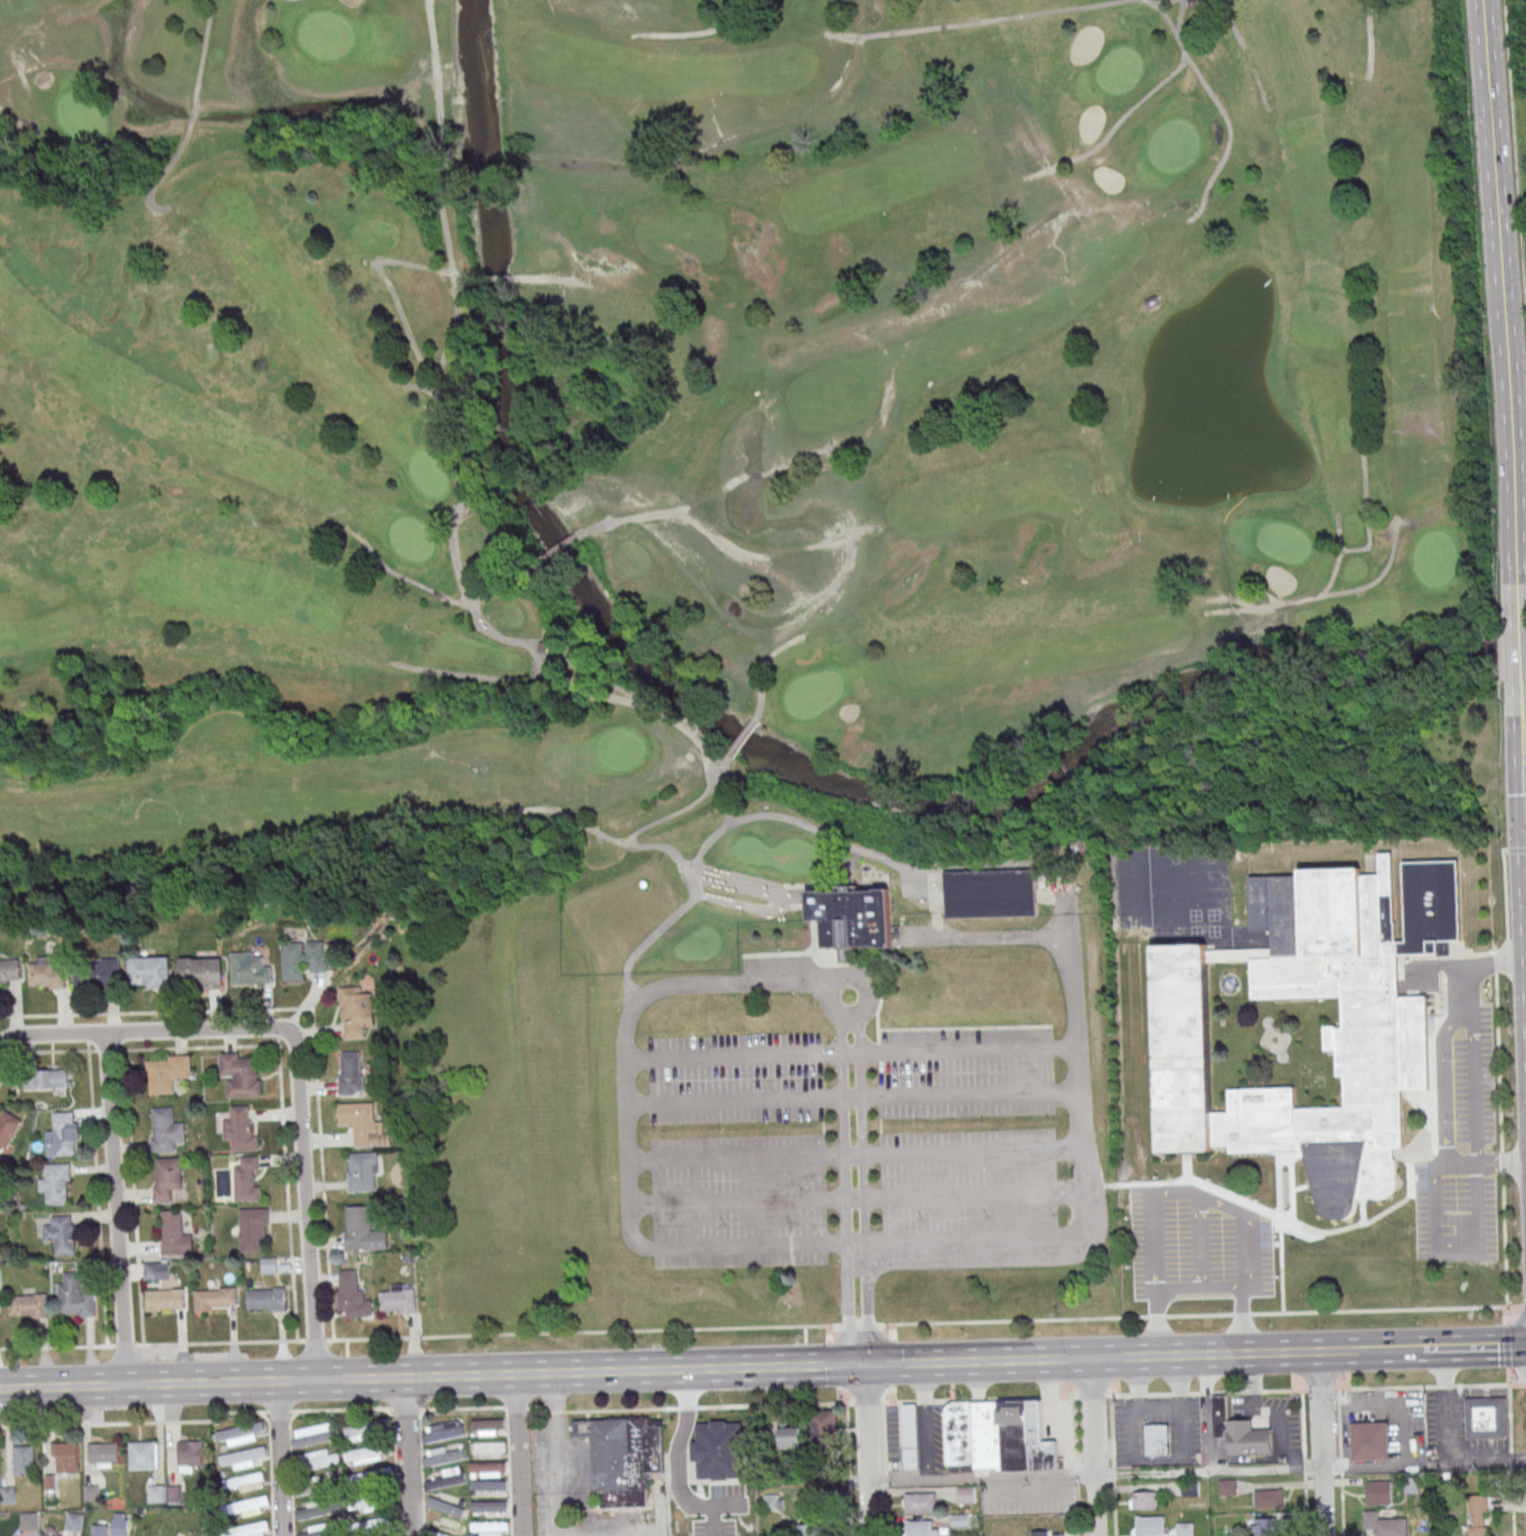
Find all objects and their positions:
park: (1524, 16)
road: (1515, 160)
road: (1502, 309)
river: (506, 426)
park: (729, 570)
road: (1522, 668)
river: (1132, 717)
road: (1523, 741)
road: (1524, 801)
traffic signals: (1525, 836)
building: (993, 894)
building: (856, 919)
building: (304, 959)
building: (10, 969)
building: (252, 971)
building: (99, 972)
building: (149, 972)
building: (201, 973)
building: (46, 975)
road: (696, 985)
building: (356, 1012)
building: (1374, 1038)
road: (851, 1052)
road: (300, 1058)
building: (166, 1073)
building: (351, 1073)
building: (242, 1075)
building: (46, 1079)
road: (853, 1097)
building: (364, 1124)
road: (1080, 1124)
parking lot: (849, 1126)
building: (7, 1129)
building: (241, 1130)
building: (166, 1131)
building: (62, 1133)
road: (855, 1153)
building: (362, 1172)
building: (168, 1179)
building: (247, 1179)
building: (55, 1183)
road: (1191, 1196)
road: (858, 1198)
road: (114, 1208)
building: (253, 1229)
building: (363, 1229)
building: (60, 1234)
building: (174, 1235)
building: (270, 1266)
building: (157, 1271)
road: (1199, 1288)
building: (351, 1296)
building: (74, 1297)
building: (216, 1299)
building: (266, 1299)
building: (165, 1300)
building: (398, 1300)
building: (28, 1306)
road: (762, 1327)
road: (1474, 1347)
road: (1389, 1350)
road: (1183, 1355)
road: (938, 1364)
traffic signals: (864, 1367)
road: (803, 1368)
road: (371, 1378)
road: (924, 1383)
road: (1225, 1392)
road: (1157, 1403)
road: (1445, 1406)
road: (461, 1408)
building: (1486, 1418)
building: (488, 1427)
building: (826, 1427)
building: (442, 1431)
building: (359, 1432)
building: (1239, 1432)
building: (240, 1434)
building: (314, 1435)
building: (910, 1436)
building: (997, 1436)
building: (791, 1437)
road: (925, 1441)
building: (1370, 1441)
road: (1320, 1444)
building: (1161, 1445)
road: (1093, 1446)
building: (488, 1448)
road: (868, 1451)
road: (659, 1453)
building: (104, 1455)
building: (143, 1455)
building: (190, 1455)
building: (366, 1455)
road: (515, 1455)
road: (554, 1455)
road: (406, 1456)
building: (440, 1456)
building: (65, 1457)
building: (243, 1457)
road: (282, 1458)
building: (622, 1458)
building: (318, 1460)
building: (24, 1461)
road: (1340, 1462)
road: (1304, 1463)
road: (679, 1466)
road: (1113, 1466)
building: (487, 1468)
road: (849, 1469)
road: (885, 1469)
road: (1197, 1472)
building: (446, 1478)
building: (245, 1482)
building: (487, 1485)
building: (313, 1486)
building: (1227, 1487)
building: (1190, 1489)
building: (91, 1493)
road: (1028, 1493)
building: (1379, 1493)
building: (156, 1494)
building: (174, 1494)
building: (8, 1495)
building: (966, 1495)
building: (1269, 1499)
building: (1144, 1500)
building: (774, 1502)
building: (921, 1502)
building: (447, 1504)
road: (730, 1504)
building: (248, 1505)
building: (371, 1505)
building: (488, 1507)
building: (311, 1511)
building: (1477, 1515)
building: (960, 1520)
building: (29, 1521)
building: (74, 1522)
building: (374, 1523)
building: (120, 1524)
building: (1384, 1525)
building: (1150, 1526)
building: (1268, 1527)
building: (922, 1528)
building: (488, 1529)
building: (811, 1529)
building: (1185, 1529)
building: (100, 1530)
building: (251, 1530)
building: (314, 1531)
building: (1039, 1533)
building: (52, 1535)
building: (433, 1535)
road: (649, 1535)

